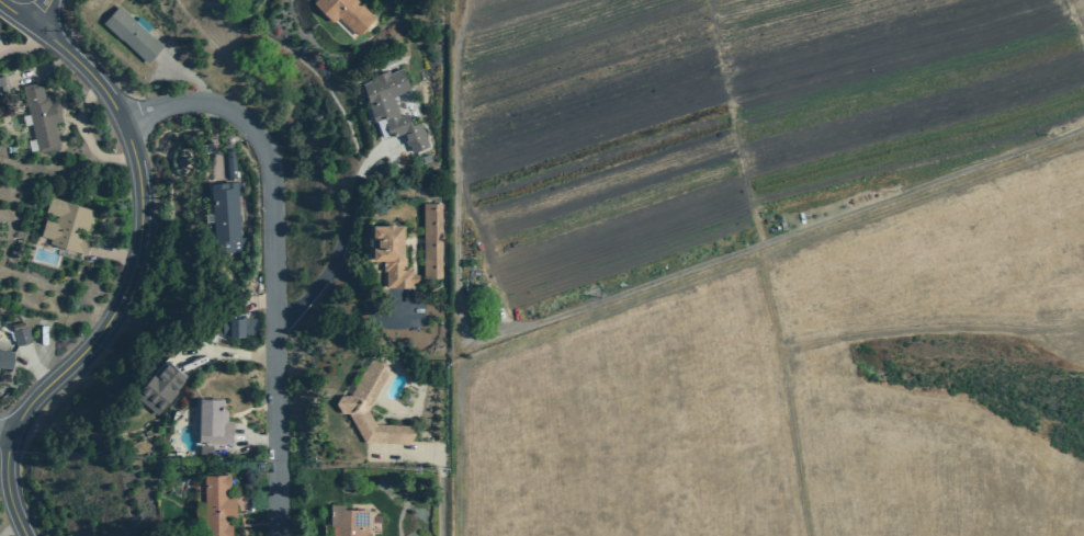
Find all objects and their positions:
road: (42, 12)
building: (347, 12)
road: (44, 15)
building: (132, 34)
road: (4, 47)
road: (23, 47)
road: (93, 54)
road: (44, 70)
road: (189, 77)
building: (3, 85)
building: (393, 106)
building: (42, 116)
road: (136, 117)
crop: (718, 132)
road: (86, 136)
road: (139, 151)
building: (230, 162)
building: (225, 212)
building: (67, 225)
road: (343, 235)
building: (431, 240)
road: (115, 254)
building: (392, 254)
road: (273, 260)
road: (133, 264)
road: (690, 283)
road: (616, 293)
road: (257, 304)
road: (766, 306)
road: (372, 309)
building: (239, 326)
building: (22, 335)
road: (835, 339)
road: (106, 345)
road: (226, 353)
building: (5, 357)
road: (33, 367)
crop: (790, 384)
building: (160, 385)
building: (355, 398)
building: (213, 421)
road: (4, 433)
road: (258, 438)
building: (205, 449)
road: (439, 464)
road: (2, 478)
building: (218, 504)
building: (348, 521)
road: (9, 529)

